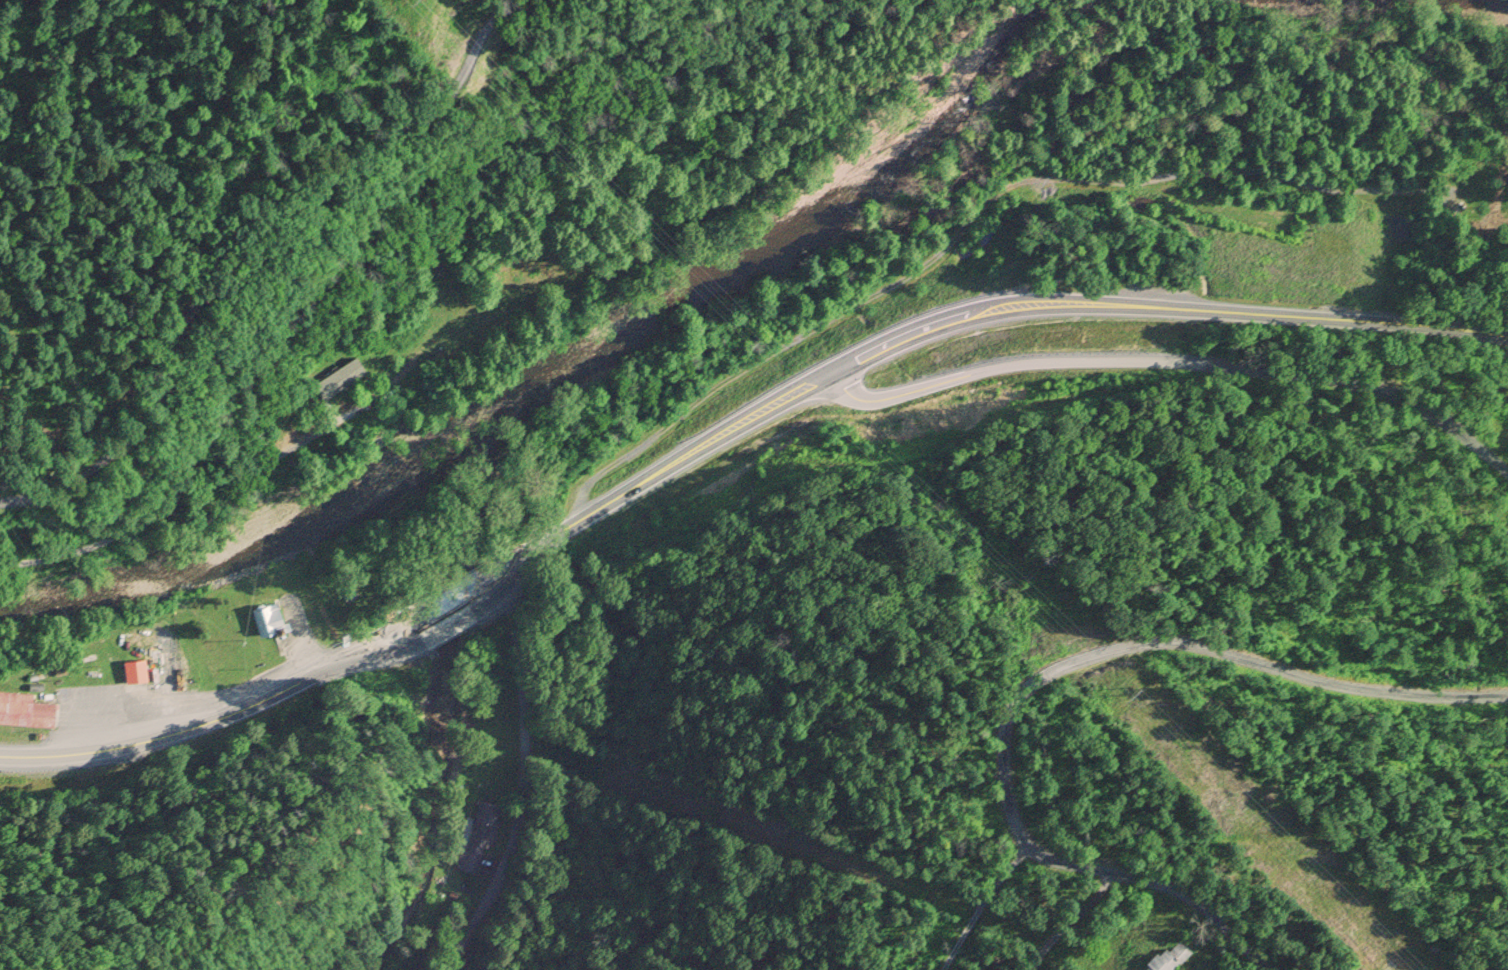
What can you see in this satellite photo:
road: (251, 253)
road: (928, 261)
road: (960, 319)
river: (577, 356)
road: (1171, 362)
building: (335, 376)
road: (453, 596)
building: (267, 621)
road: (1249, 661)
building: (134, 671)
building: (25, 713)
road: (225, 719)
road: (522, 773)
building: (478, 837)
road: (1088, 871)
building: (1167, 958)

